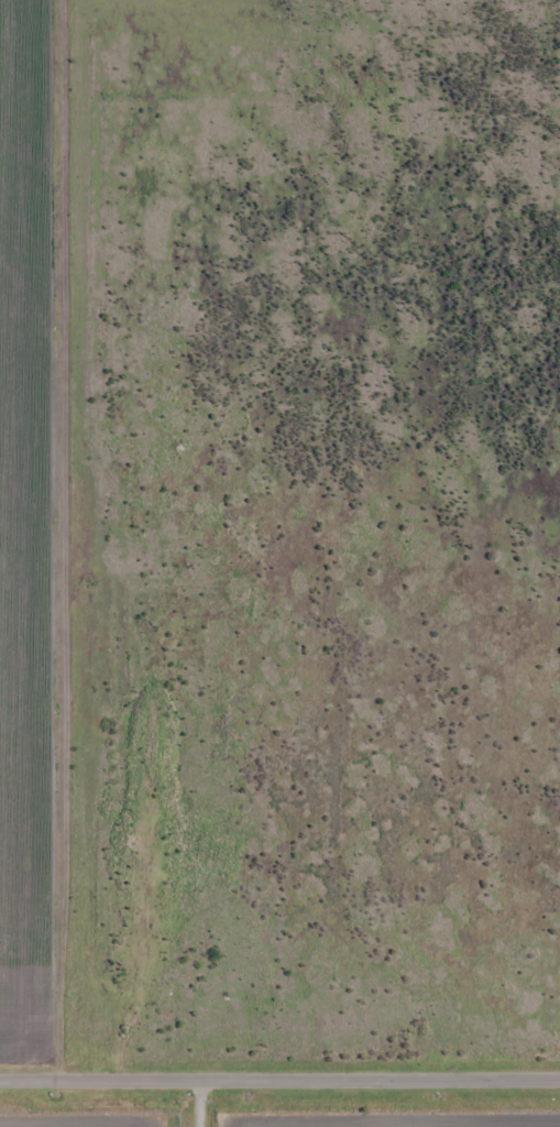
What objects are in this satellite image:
road: (279, 1080)
road: (198, 1104)
airport: (287, 1117)

